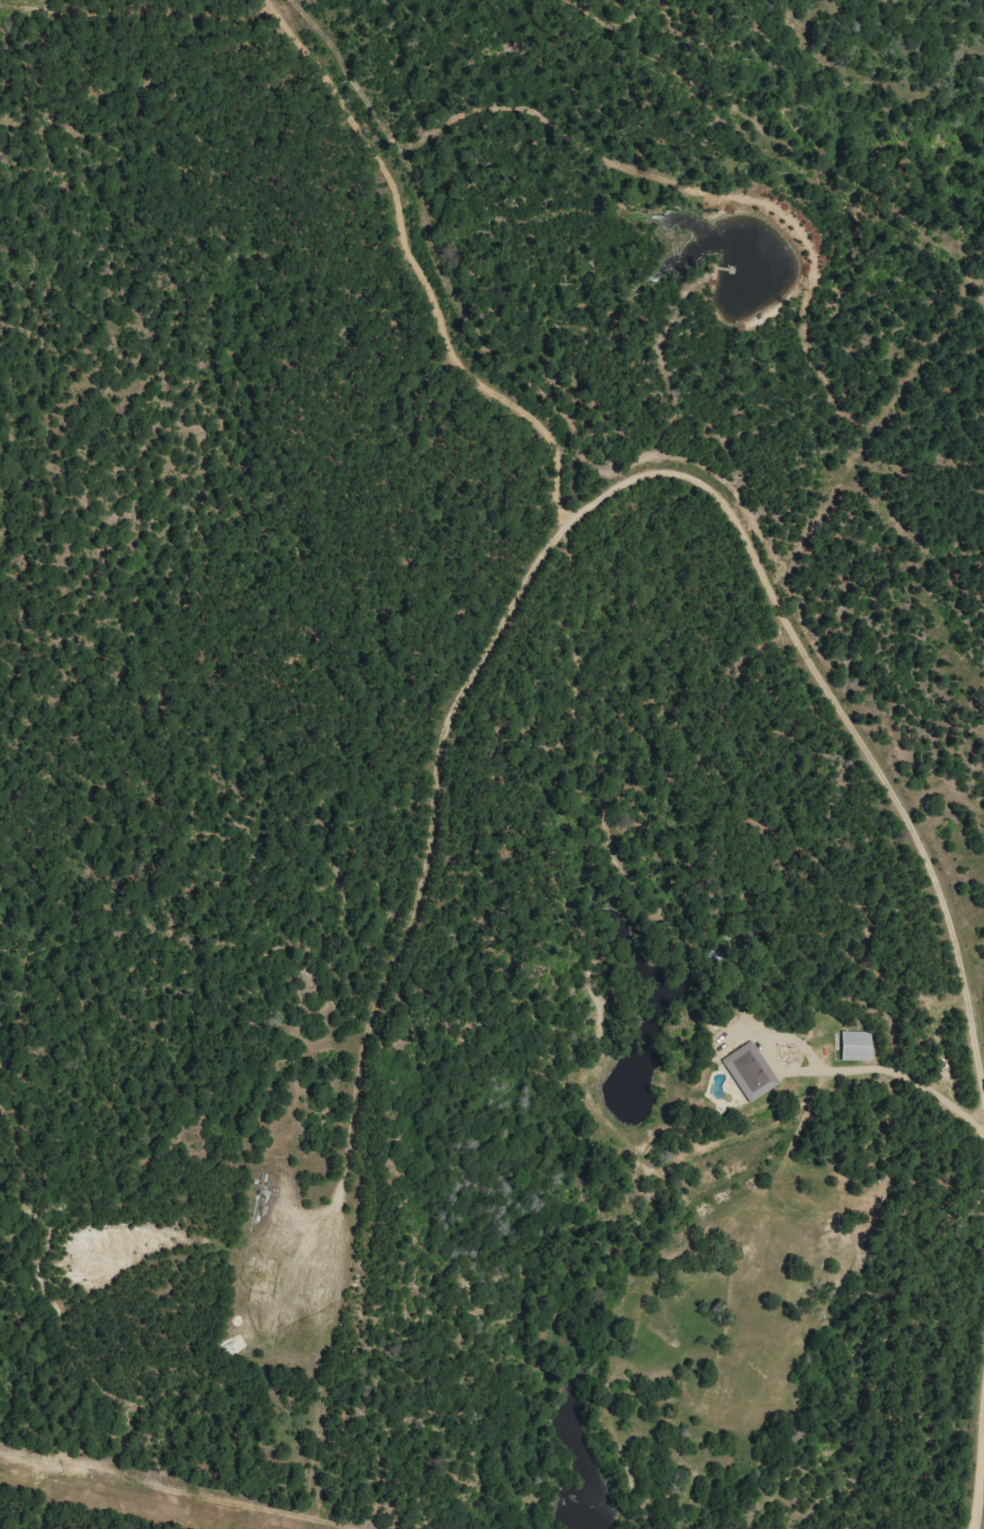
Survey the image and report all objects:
road: (538, 242)
road: (852, 729)
road: (423, 878)
building: (859, 1045)
building: (754, 1071)
road: (983, 1079)
road: (978, 1478)

